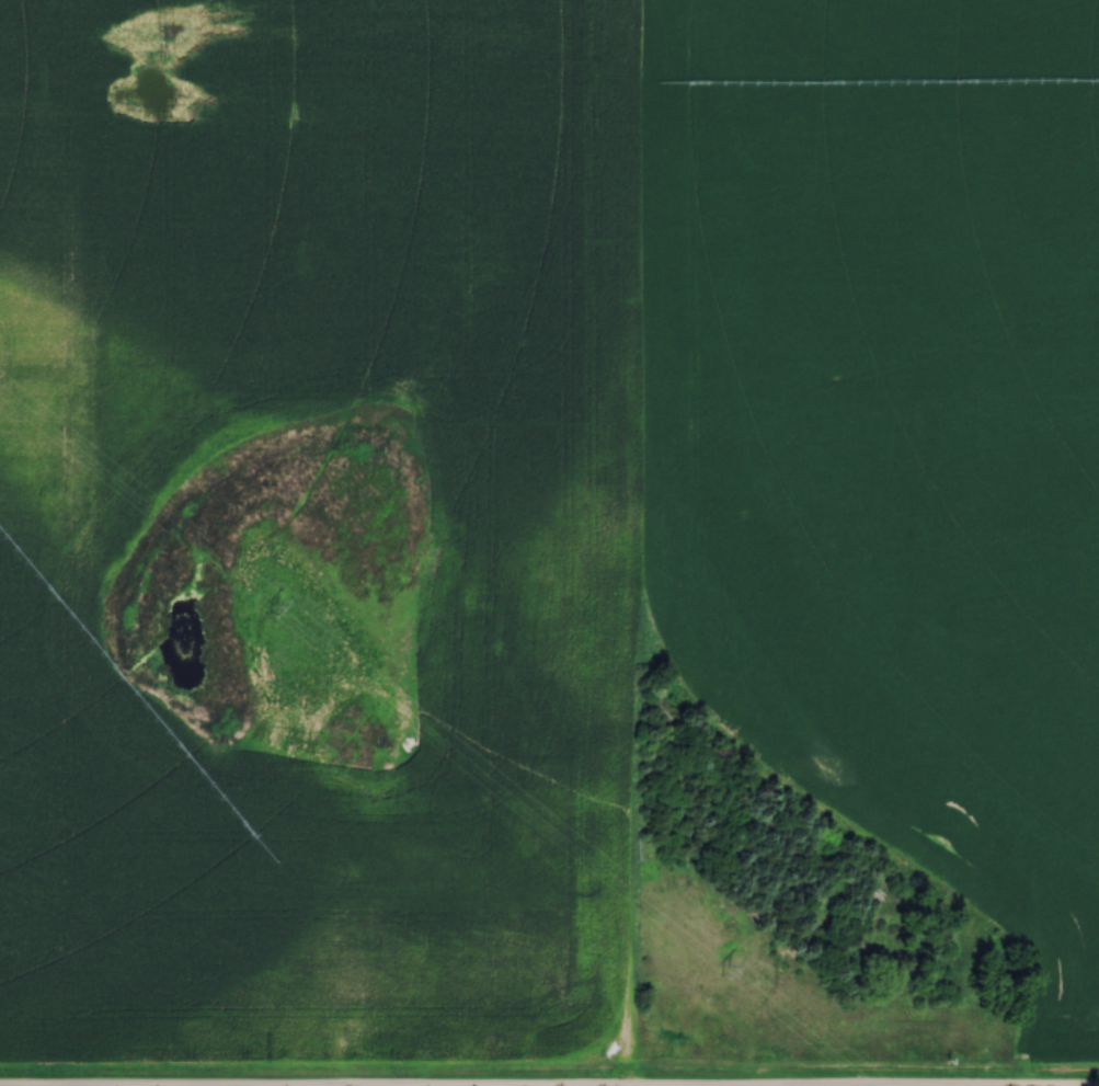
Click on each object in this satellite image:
power tower: (274, 610)
power tower: (725, 972)

